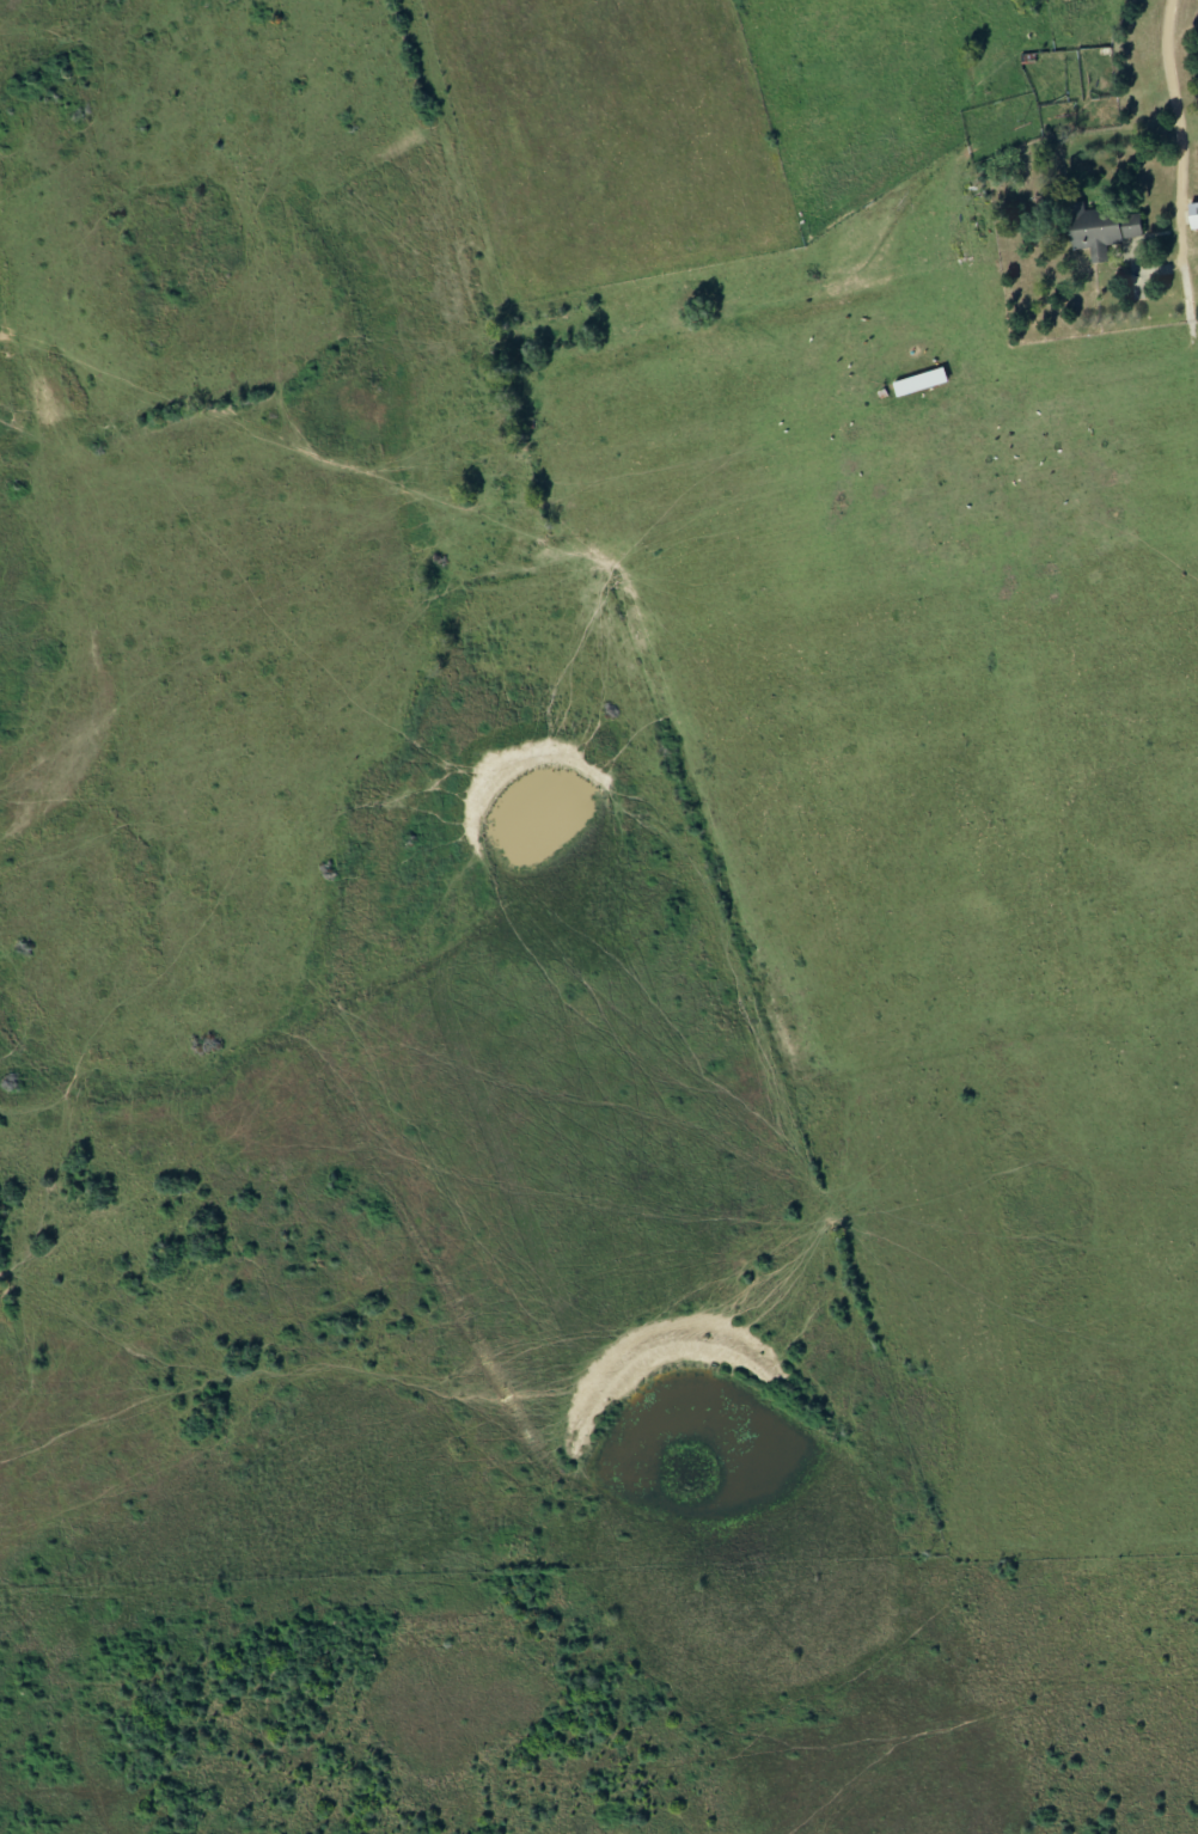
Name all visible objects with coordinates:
road: (1173, 117)
building: (1197, 212)
building: (1107, 232)
building: (925, 383)

